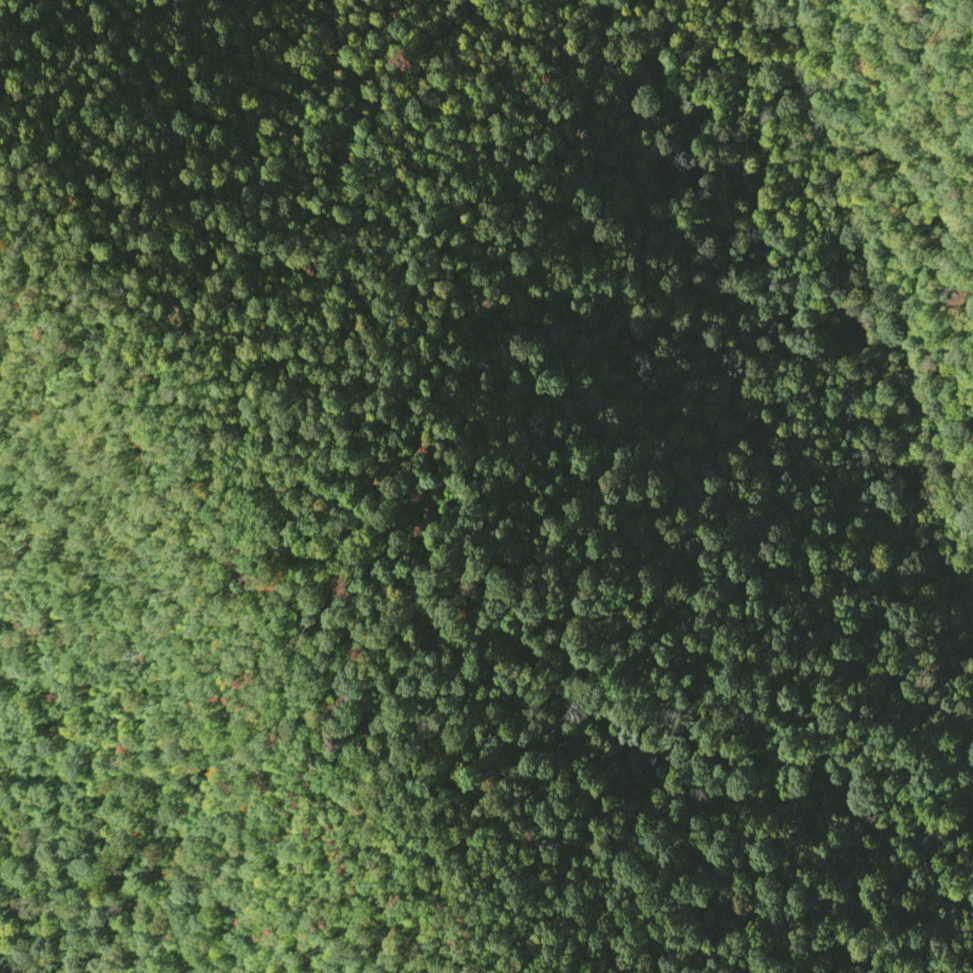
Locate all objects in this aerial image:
road: (590, 466)
road: (96, 881)

